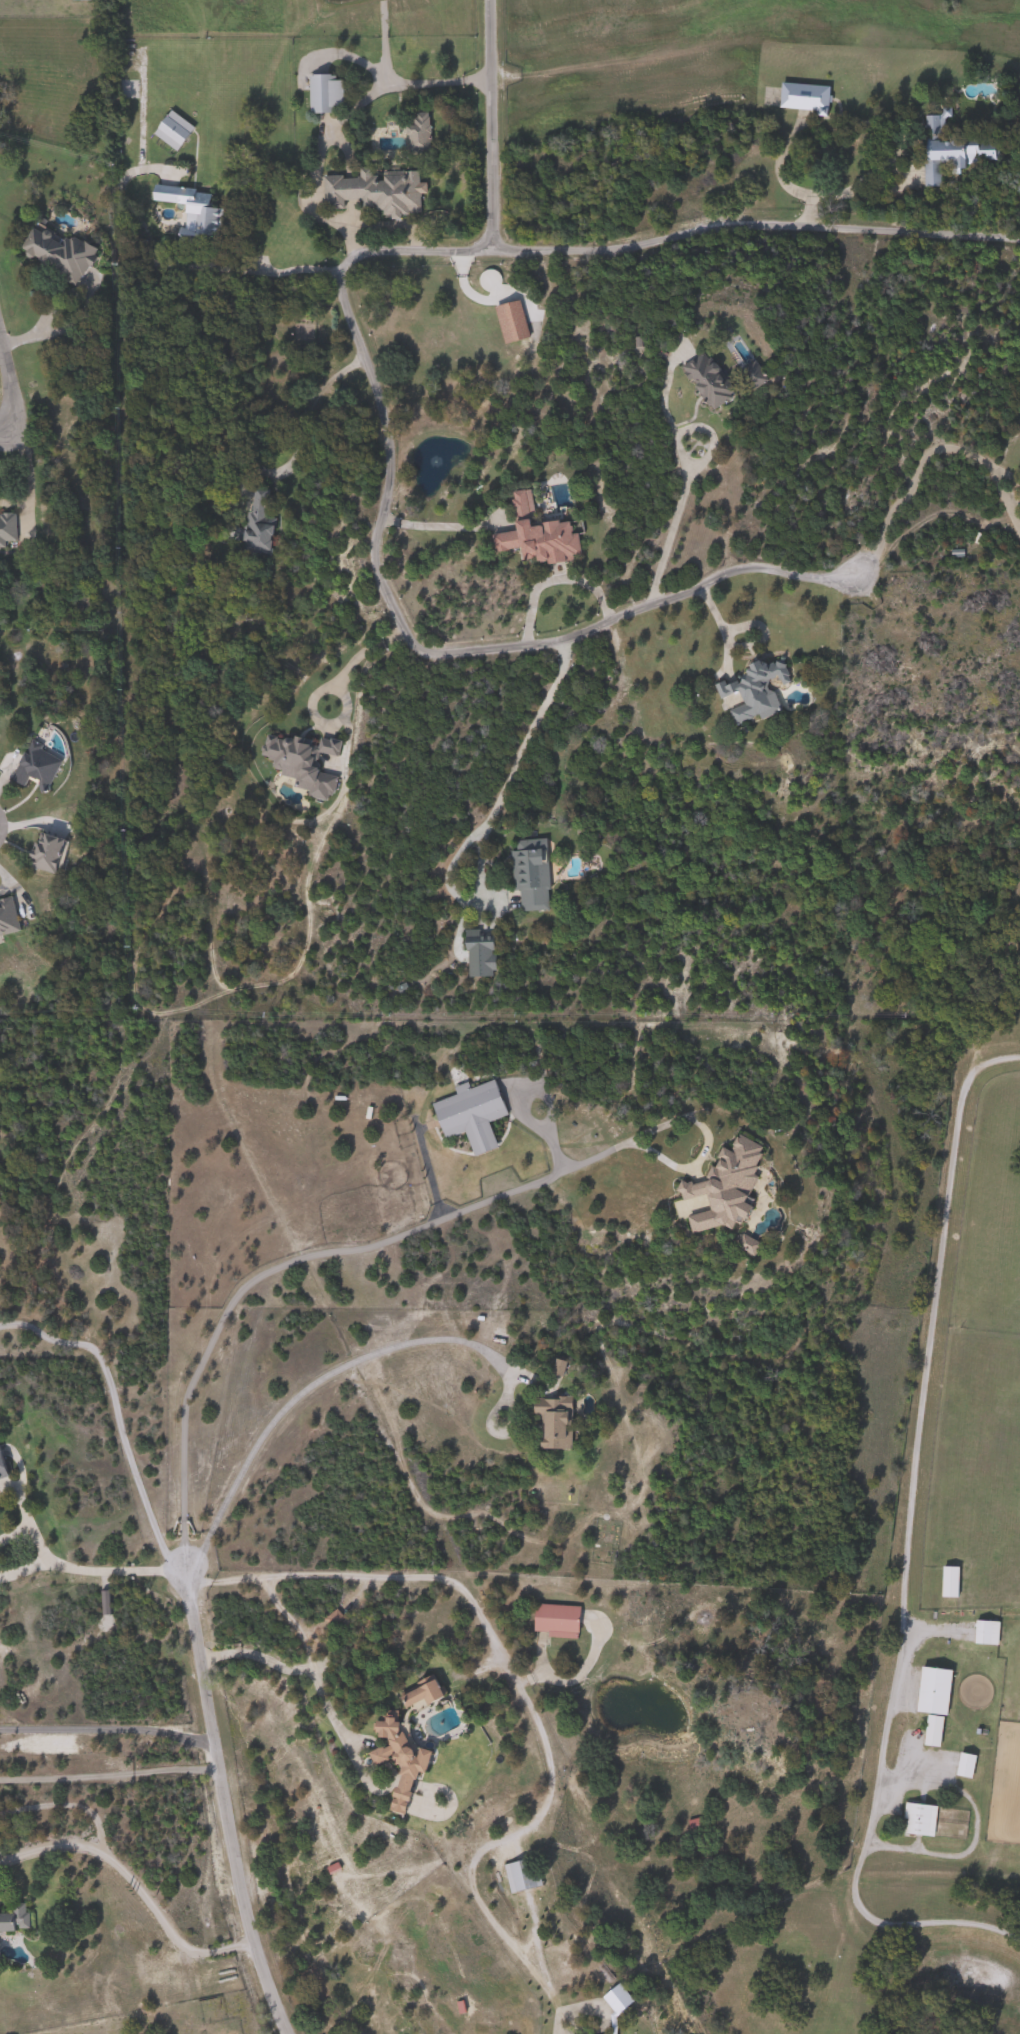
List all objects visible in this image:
building: (85, 0)
building: (325, 93)
building: (807, 97)
road: (338, 117)
road: (488, 123)
building: (173, 131)
building: (420, 132)
building: (954, 149)
building: (376, 190)
building: (191, 211)
road: (753, 223)
road: (387, 225)
building: (62, 249)
road: (409, 249)
road: (164, 261)
building: (512, 322)
building: (755, 376)
building: (710, 381)
road: (8, 384)
road: (303, 418)
road: (927, 453)
road: (676, 506)
road: (430, 524)
building: (260, 525)
building: (8, 530)
building: (538, 535)
road: (444, 648)
road: (342, 669)
building: (755, 691)
road: (518, 749)
building: (39, 766)
building: (54, 850)
building: (533, 874)
building: (8, 919)
building: (481, 954)
building: (472, 1114)
building: (729, 1186)
road: (387, 1239)
road: (925, 1328)
road: (302, 1390)
road: (116, 1416)
building: (558, 1423)
building: (3, 1465)
road: (55, 1557)
building: (334, 1618)
building: (558, 1620)
building: (981, 1632)
road: (287, 1667)
road: (573, 1676)
building: (934, 1690)
building: (425, 1691)
road: (521, 1697)
road: (105, 1724)
building: (932, 1731)
building: (403, 1759)
building: (965, 1764)
road: (107, 1774)
road: (222, 1806)
building: (919, 1819)
road: (860, 1859)
building: (524, 1874)
road: (132, 1879)
building: (15, 1920)
road: (344, 2030)
building: (615, 2033)

